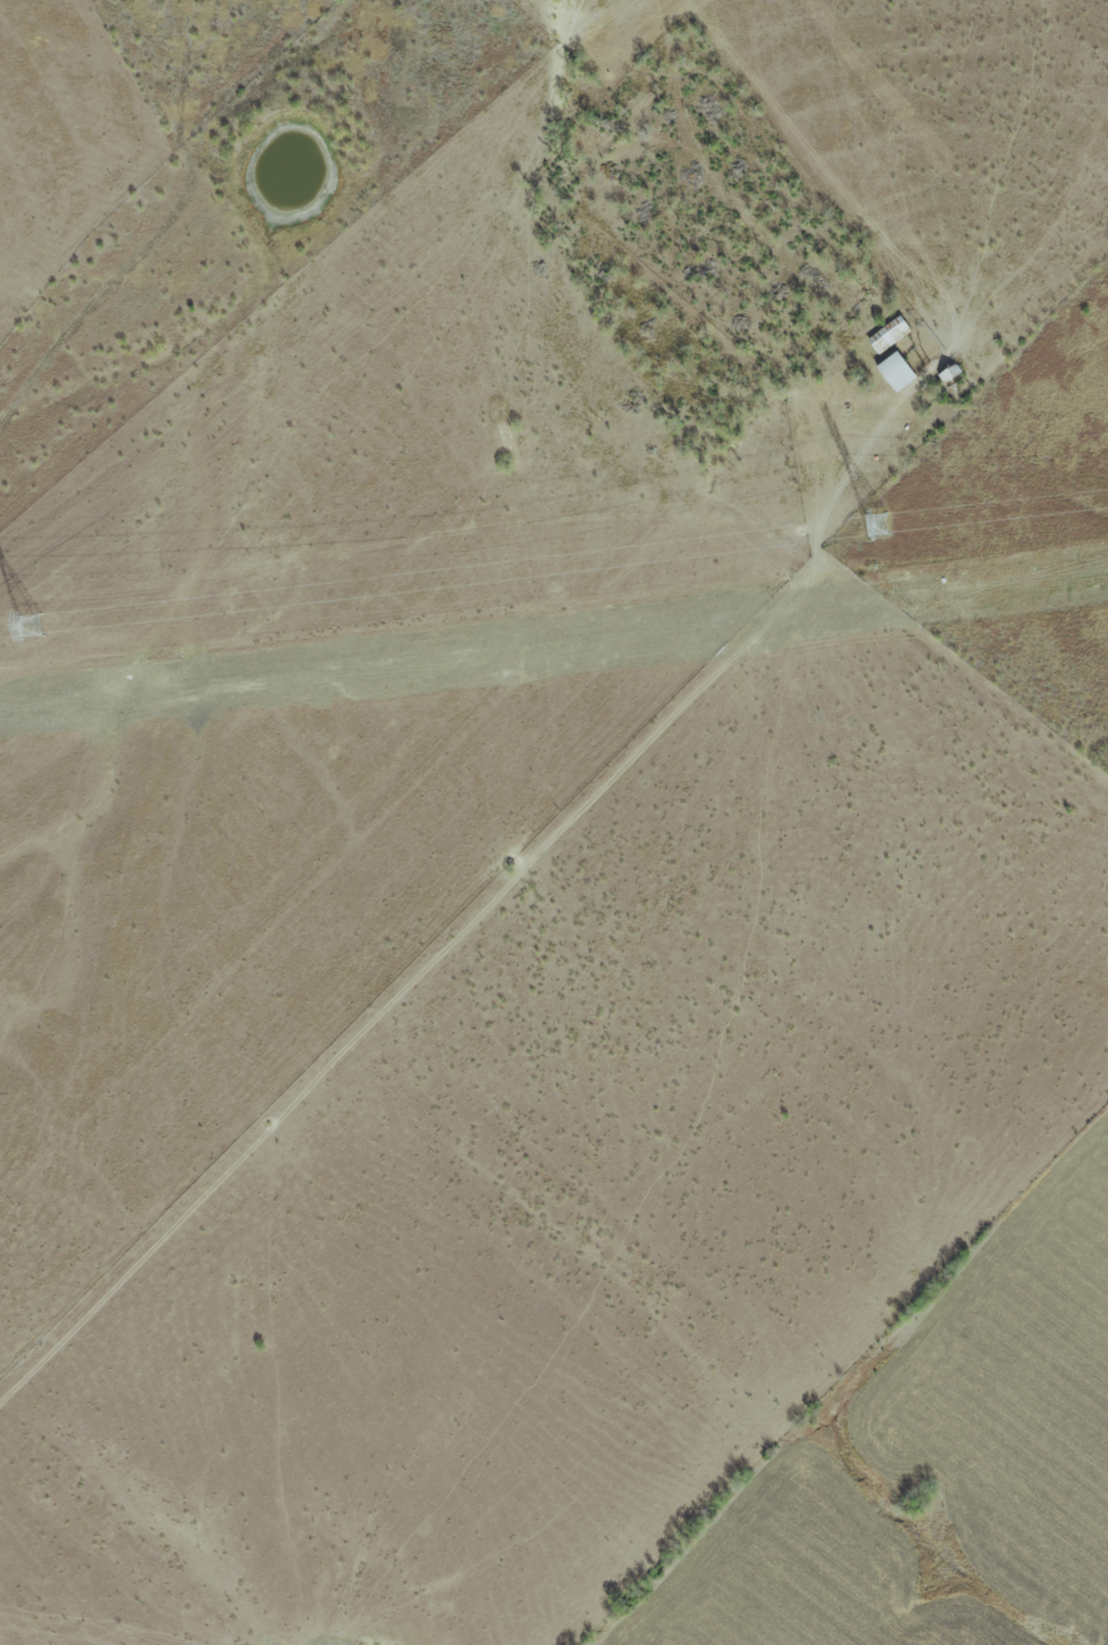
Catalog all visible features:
building: (889, 333)
building: (897, 371)
power tower: (878, 527)
road: (836, 567)
road: (257, 570)
power tower: (34, 627)

